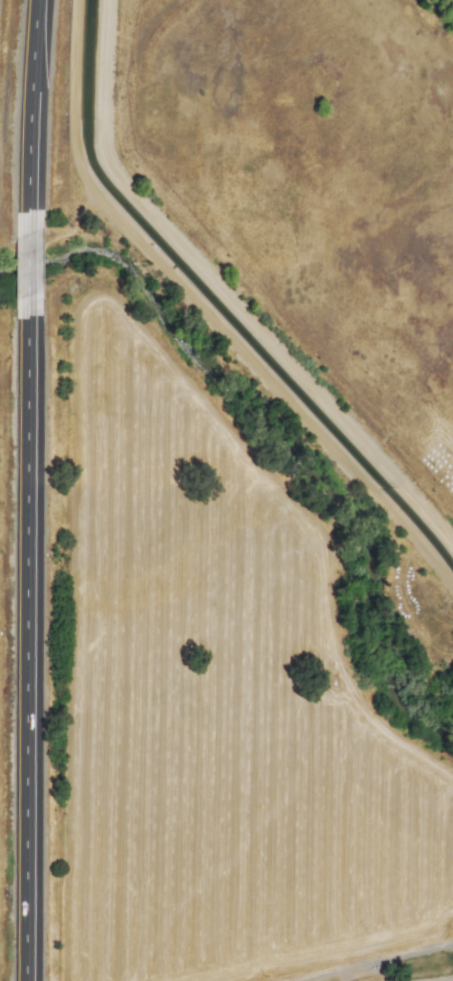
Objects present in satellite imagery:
road: (26, 103)
road: (23, 261)
road: (237, 280)
road: (203, 322)
road: (22, 648)
road: (378, 962)
road: (413, 973)

